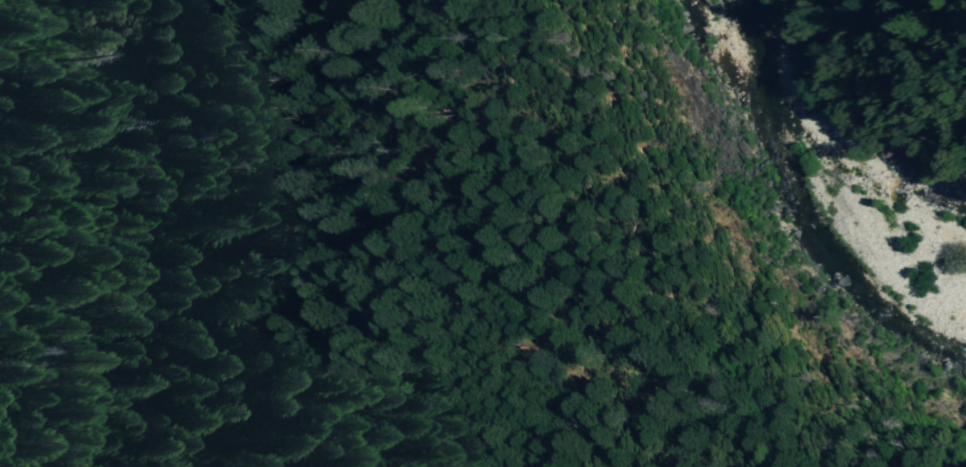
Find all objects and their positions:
road: (932, 59)
river: (792, 215)
river: (791, 220)
park: (76, 261)

